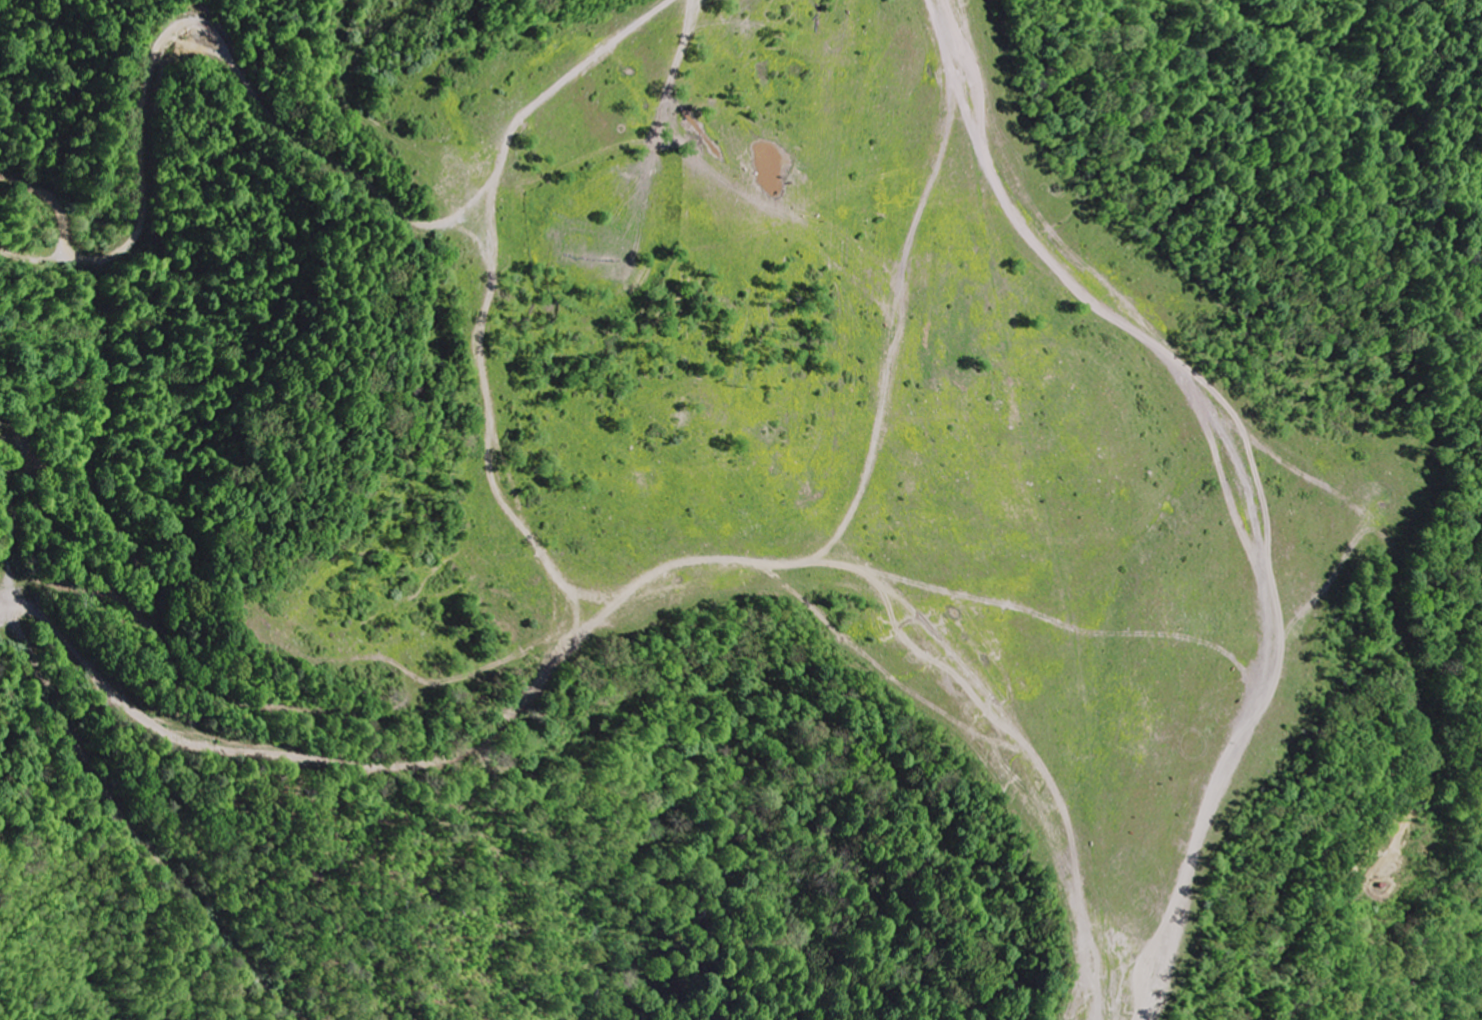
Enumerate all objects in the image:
road: (1160, 991)

